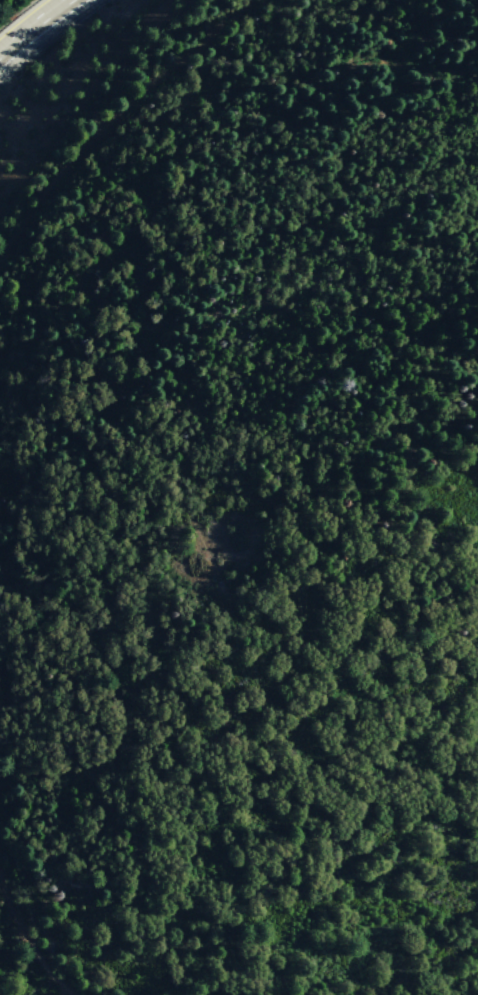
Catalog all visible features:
road: (28, 22)
road: (24, 437)

